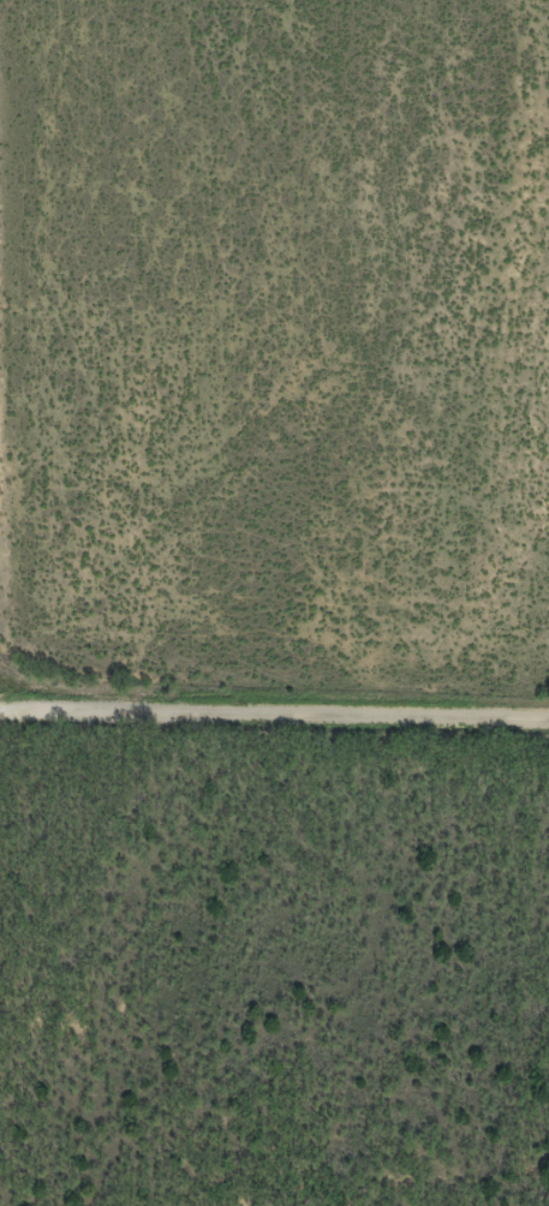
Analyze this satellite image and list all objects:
road: (274, 756)

